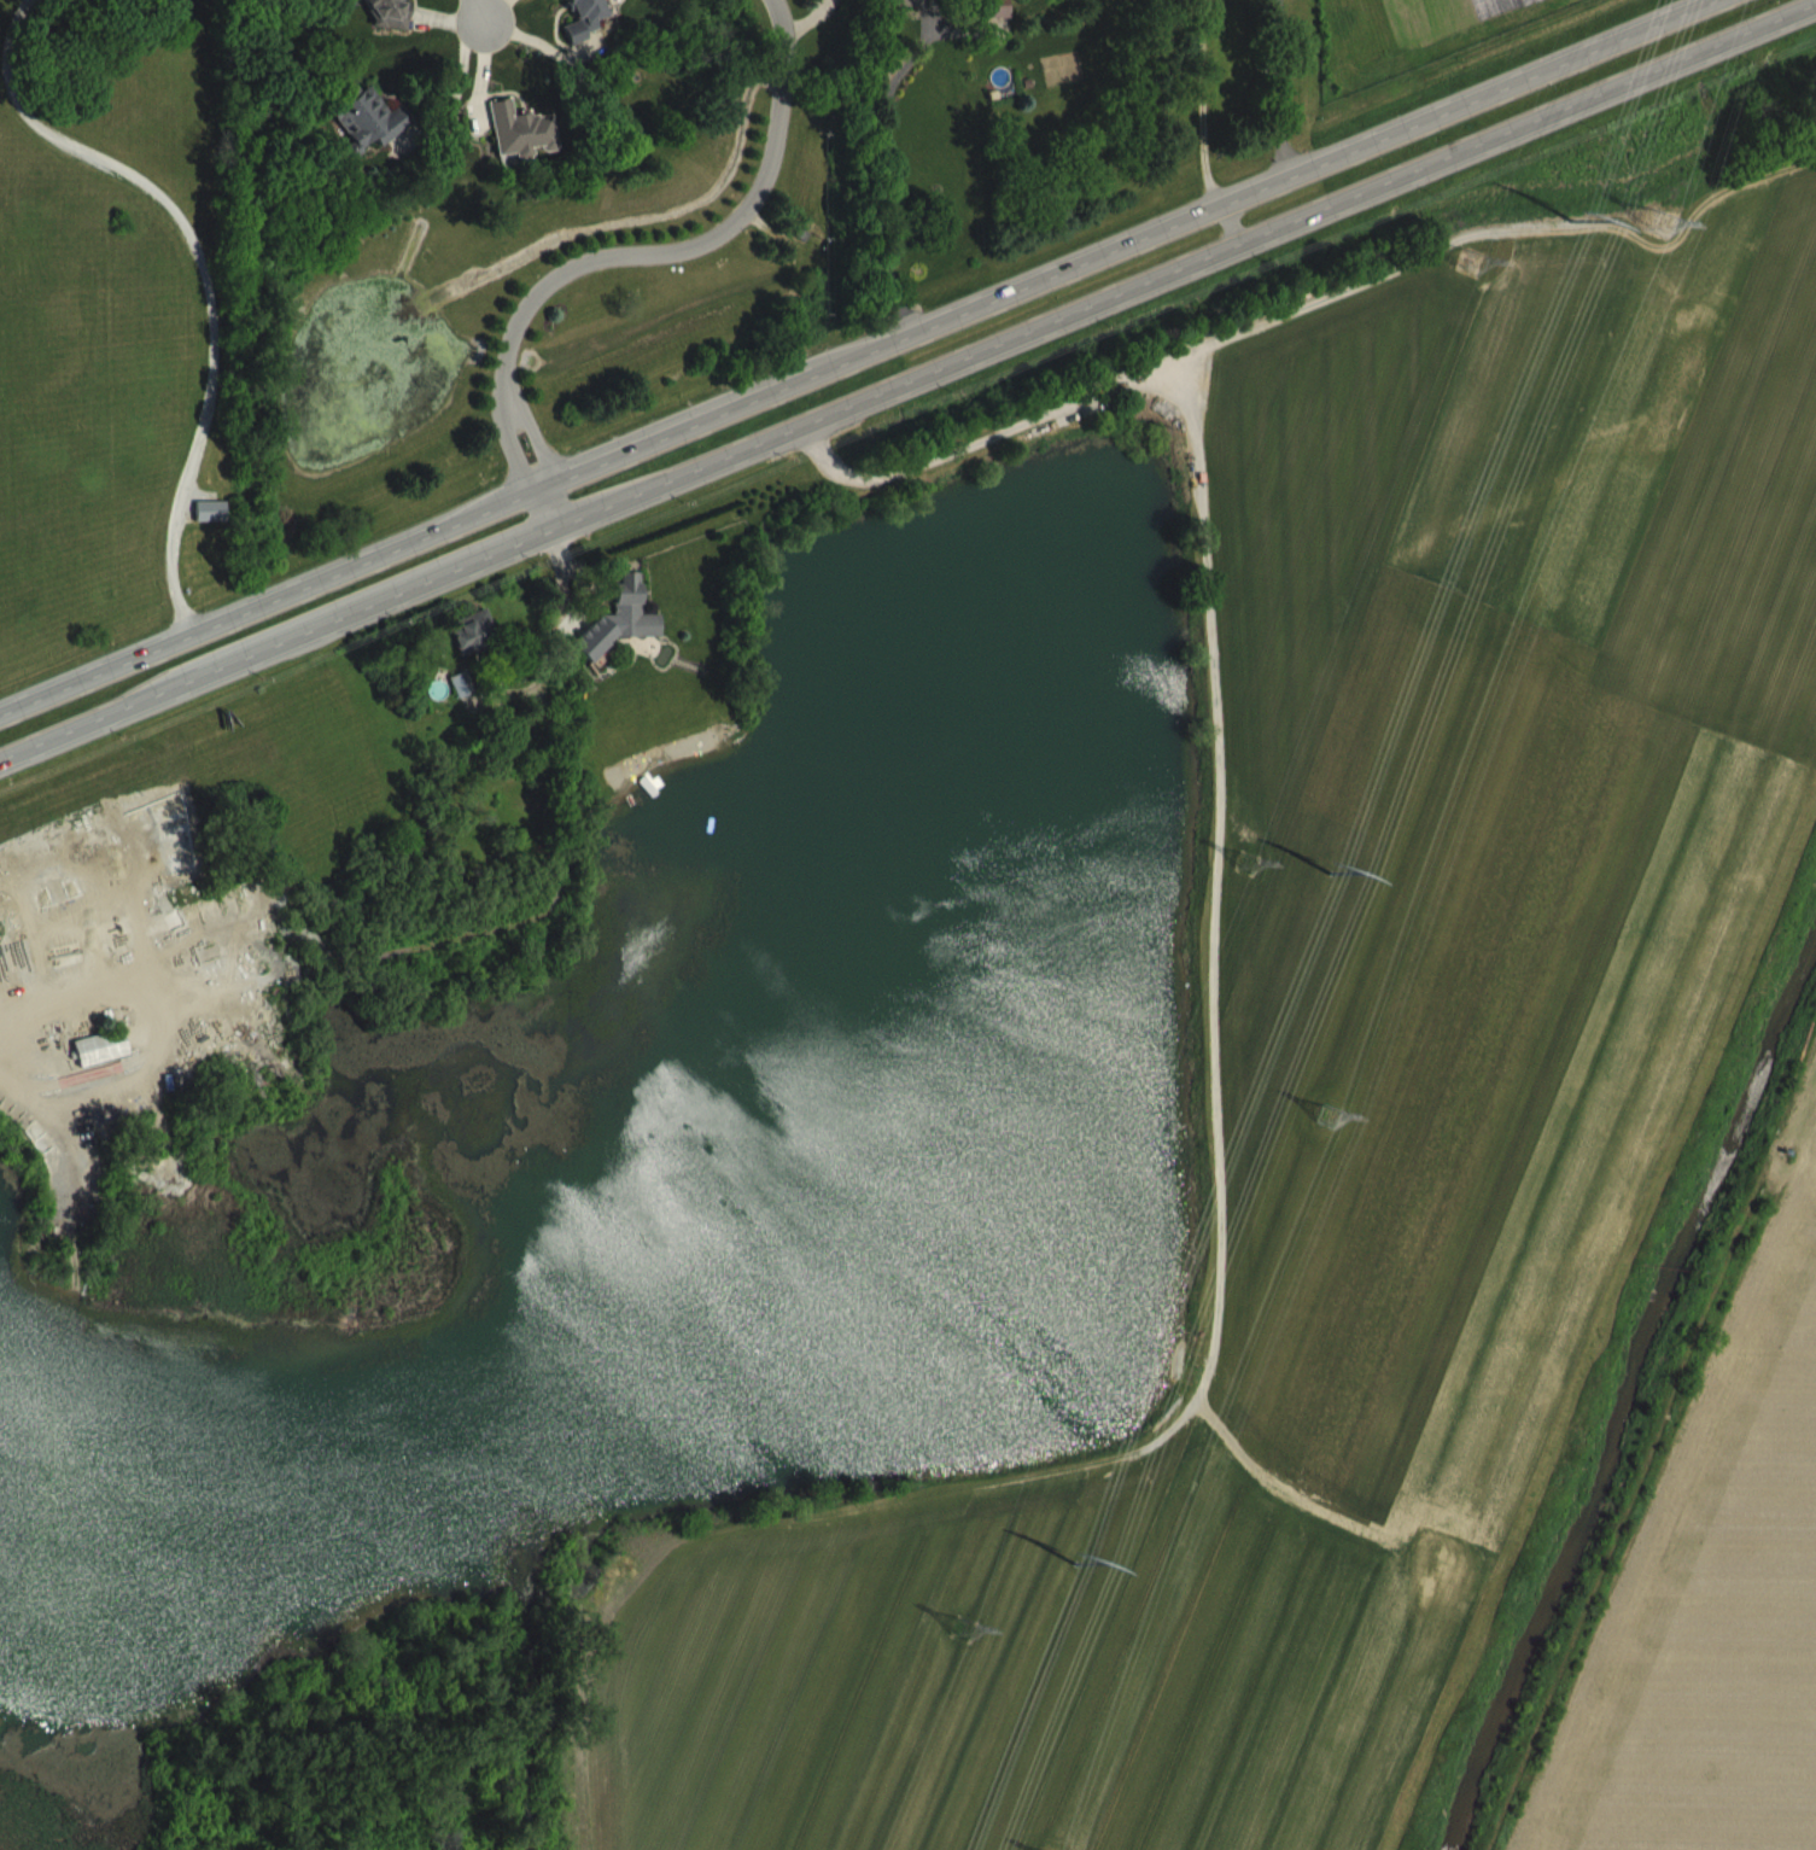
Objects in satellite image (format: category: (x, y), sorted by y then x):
building: (187, 2)
road: (483, 10)
building: (1006, 23)
building: (395, 24)
building: (594, 29)
road: (1278, 76)
road: (468, 100)
building: (374, 136)
building: (530, 148)
power tower: (1600, 154)
power tower: (1668, 221)
road: (659, 255)
road: (199, 262)
power tower: (1475, 265)
road: (824, 335)
road: (910, 390)
building: (222, 529)
building: (629, 637)
building: (481, 649)
building: (472, 701)
power tower: (1251, 865)
power tower: (1322, 894)
building: (110, 1066)
power tower: (1333, 1121)
power tower: (1084, 1578)
power tower: (963, 1632)

